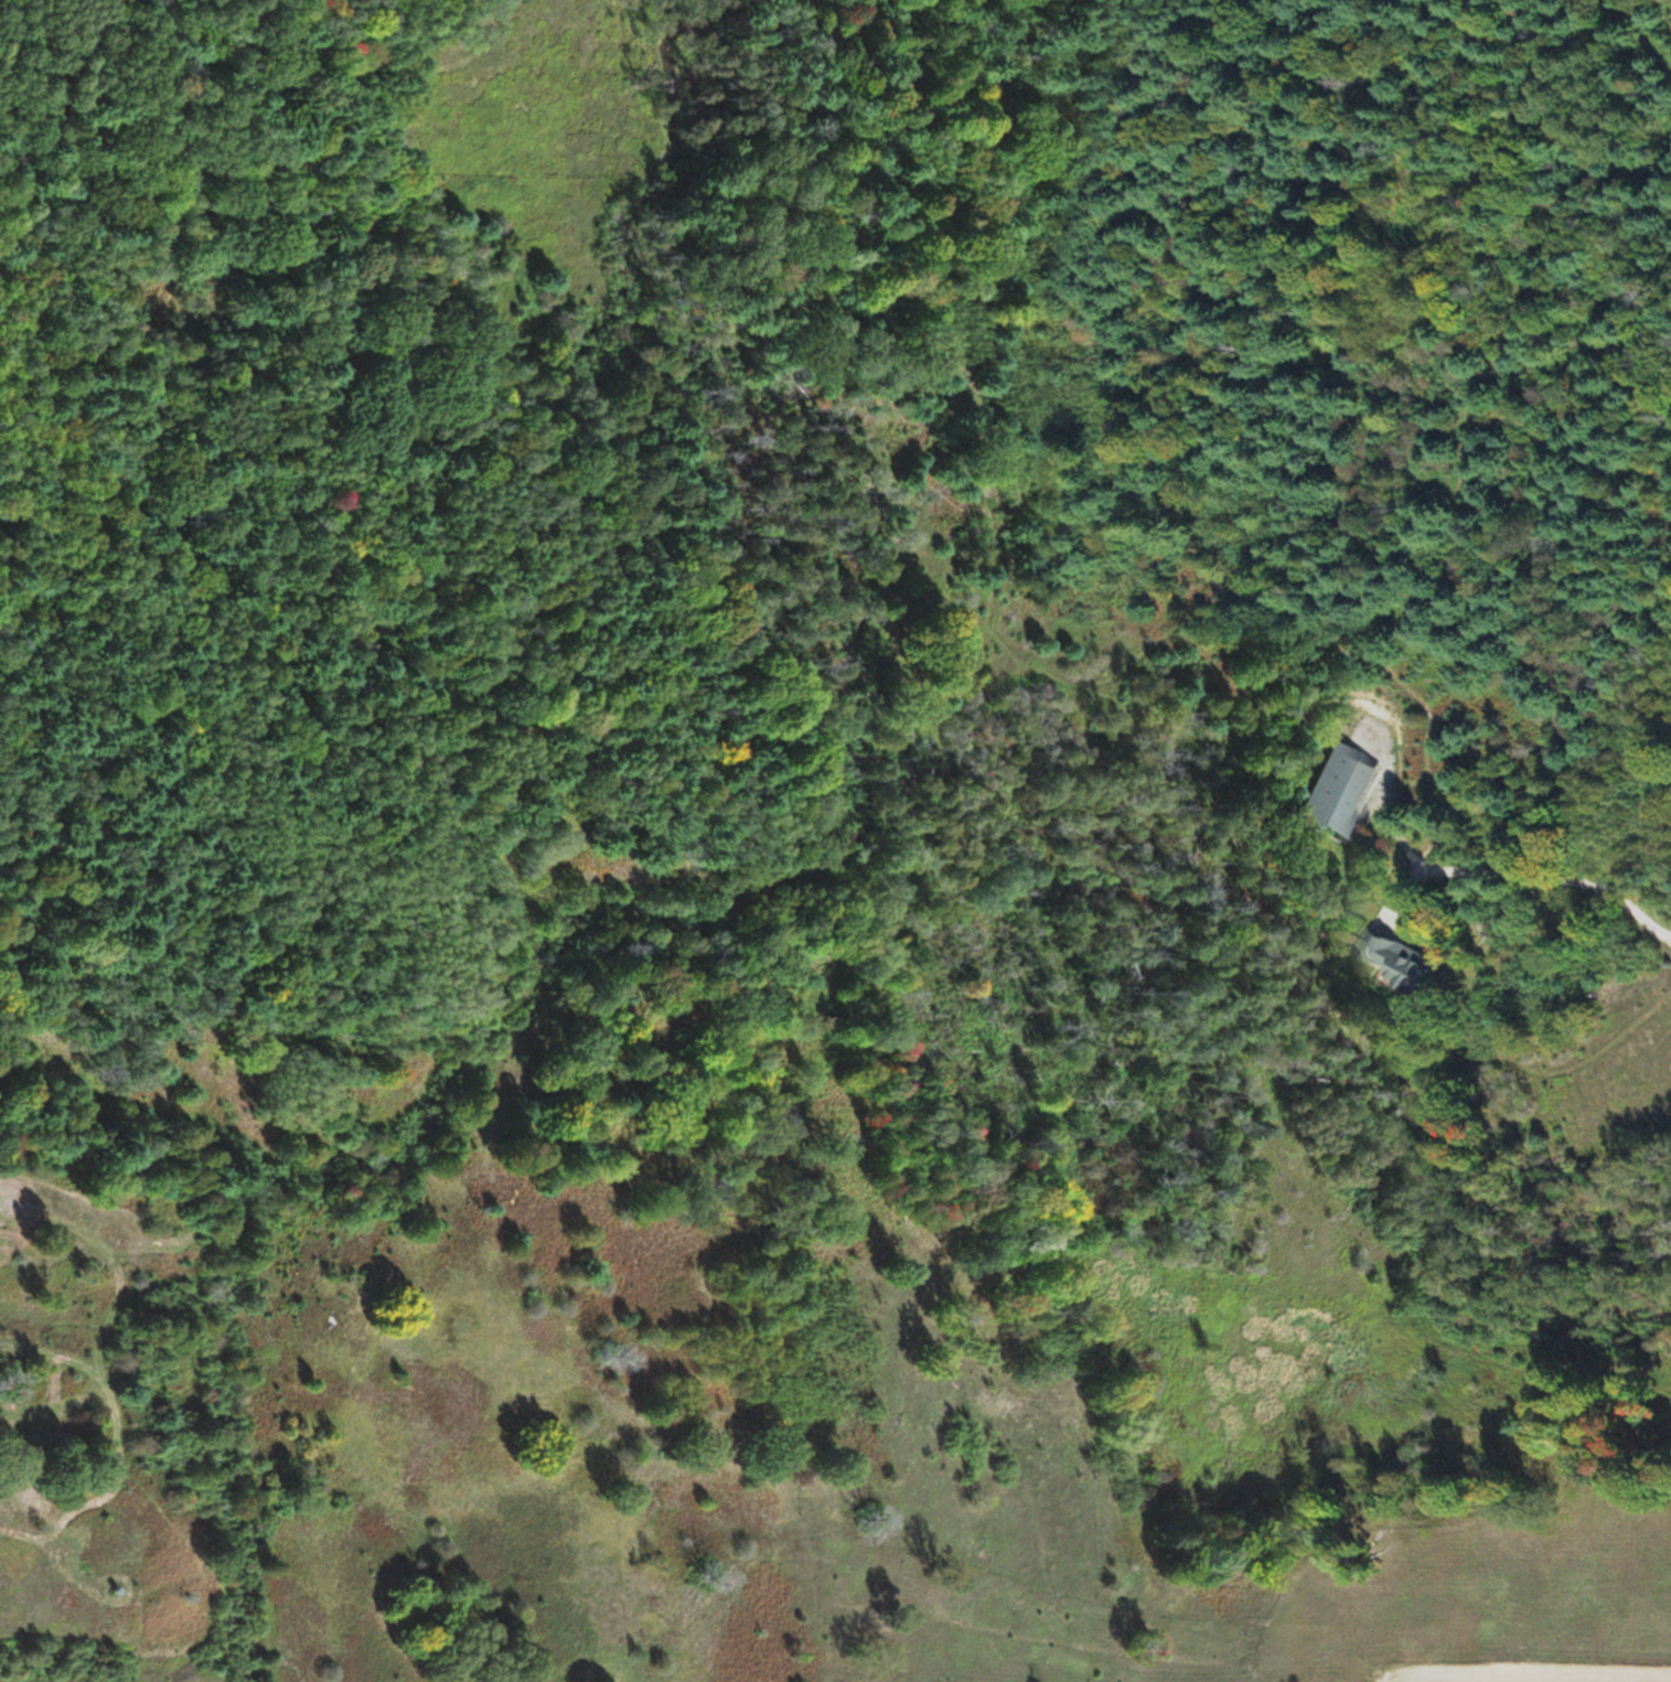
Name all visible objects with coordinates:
building: (1340, 790)
building: (1416, 967)

